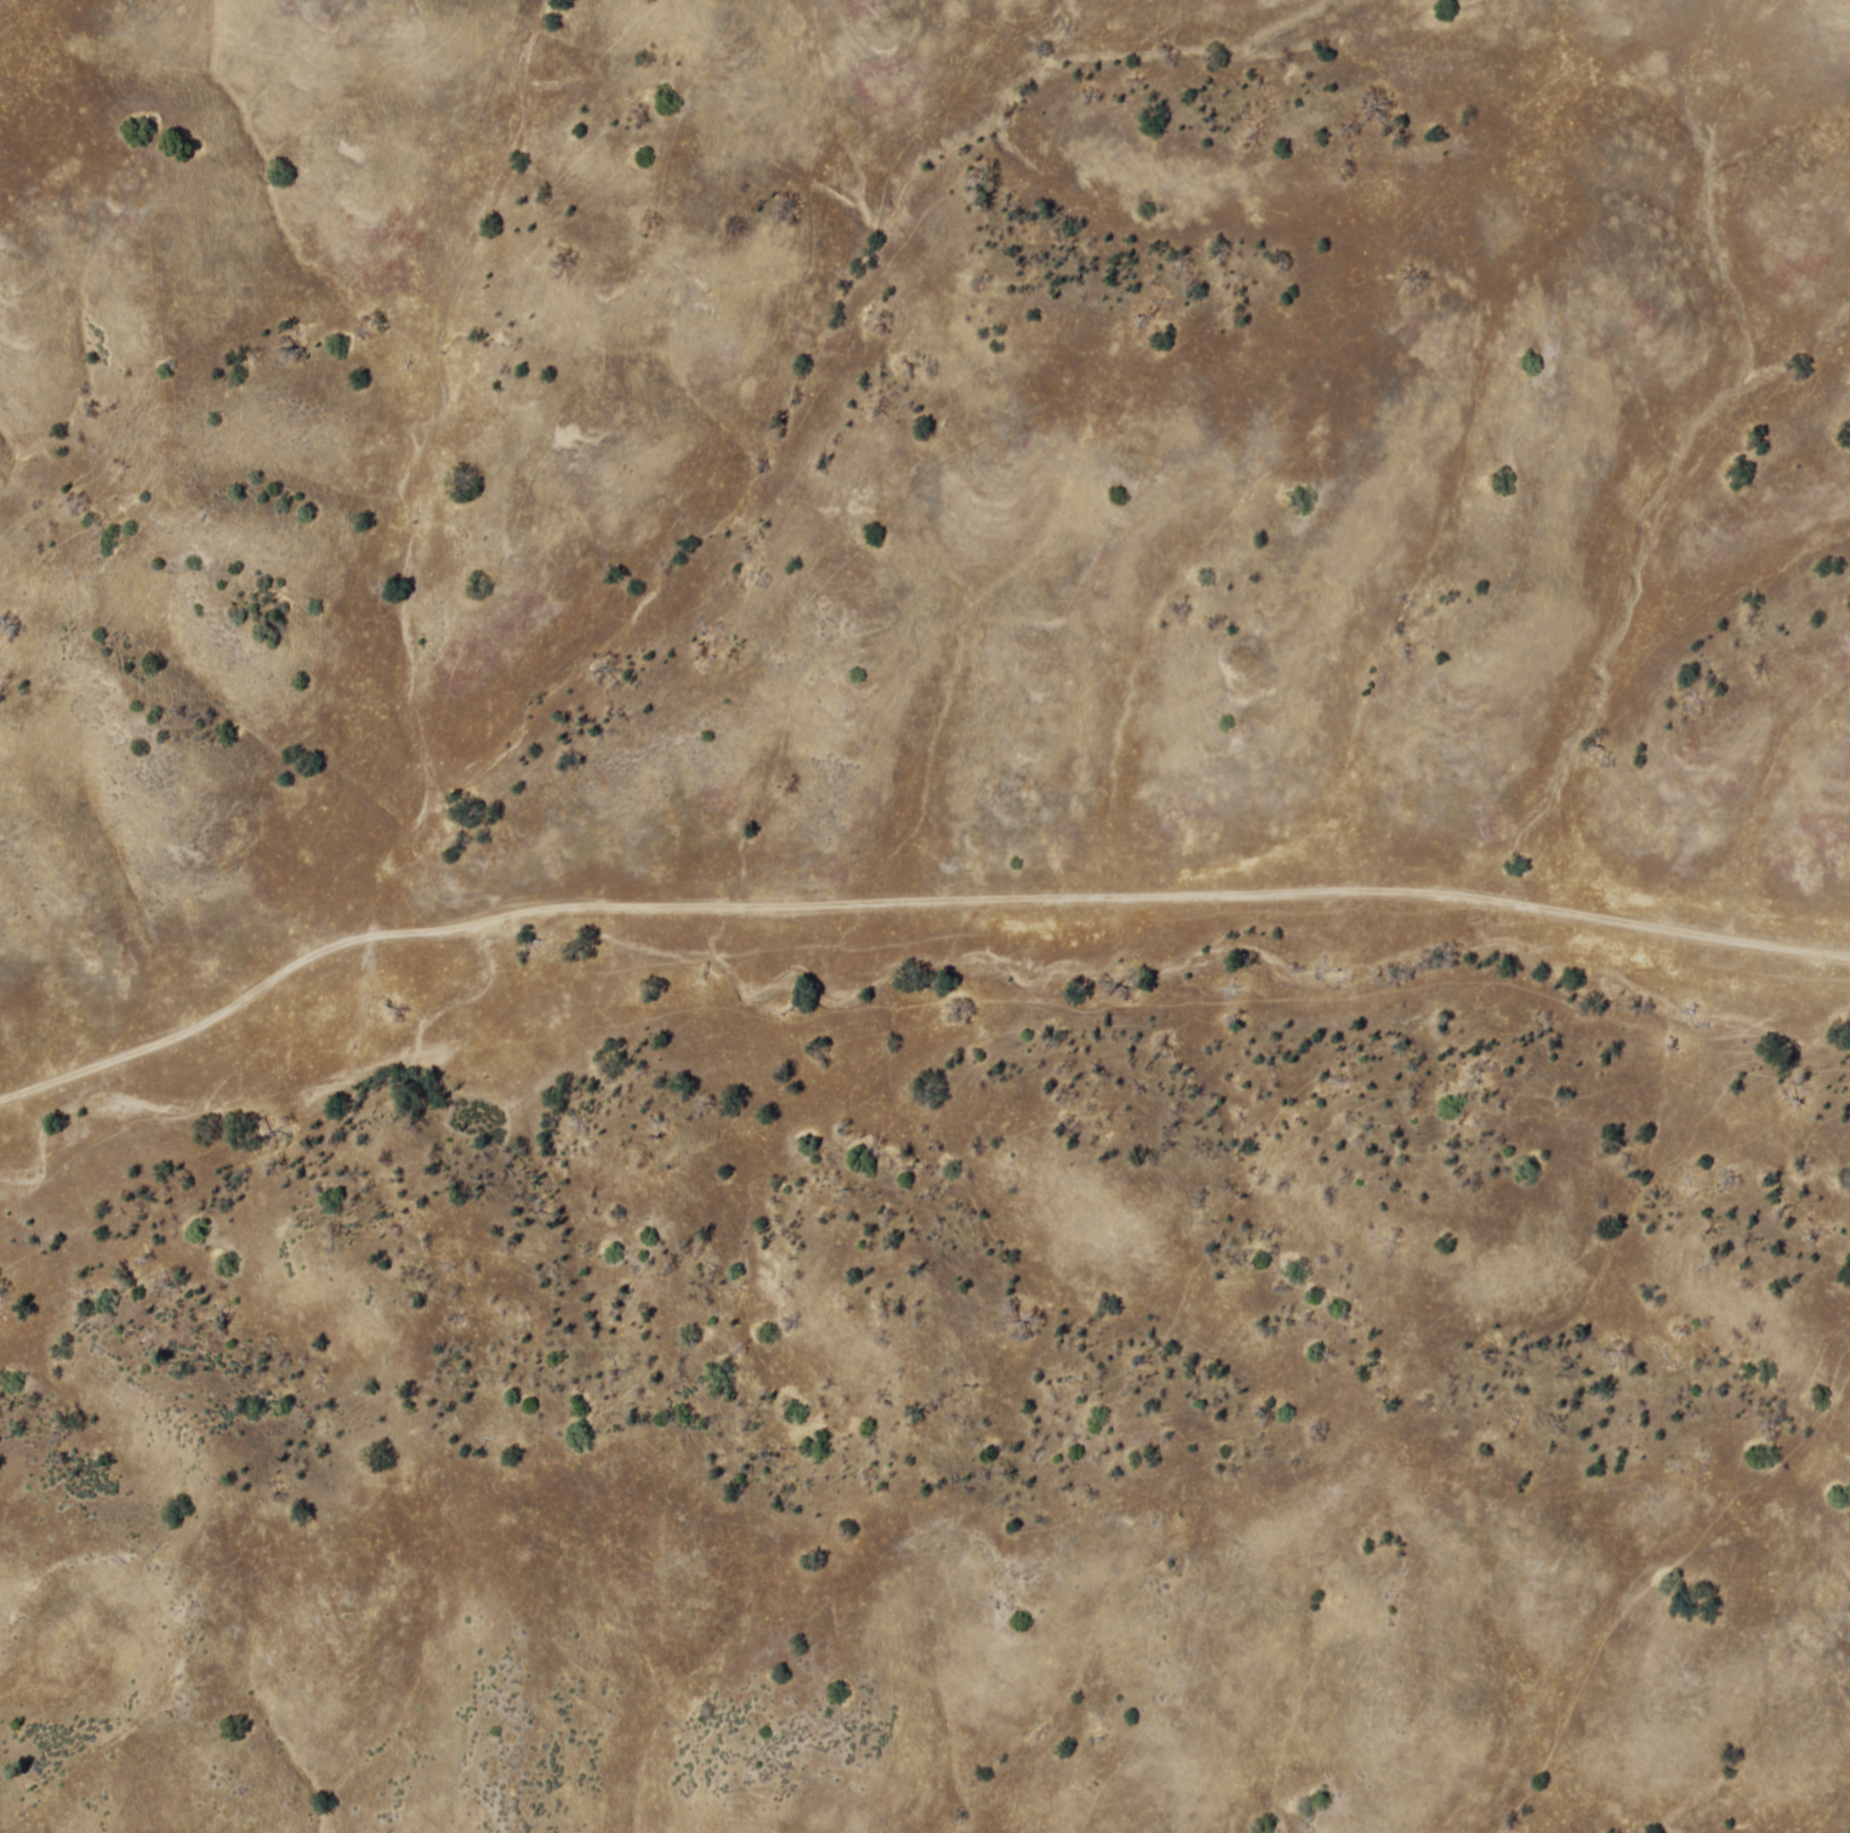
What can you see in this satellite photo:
road: (905, 901)

